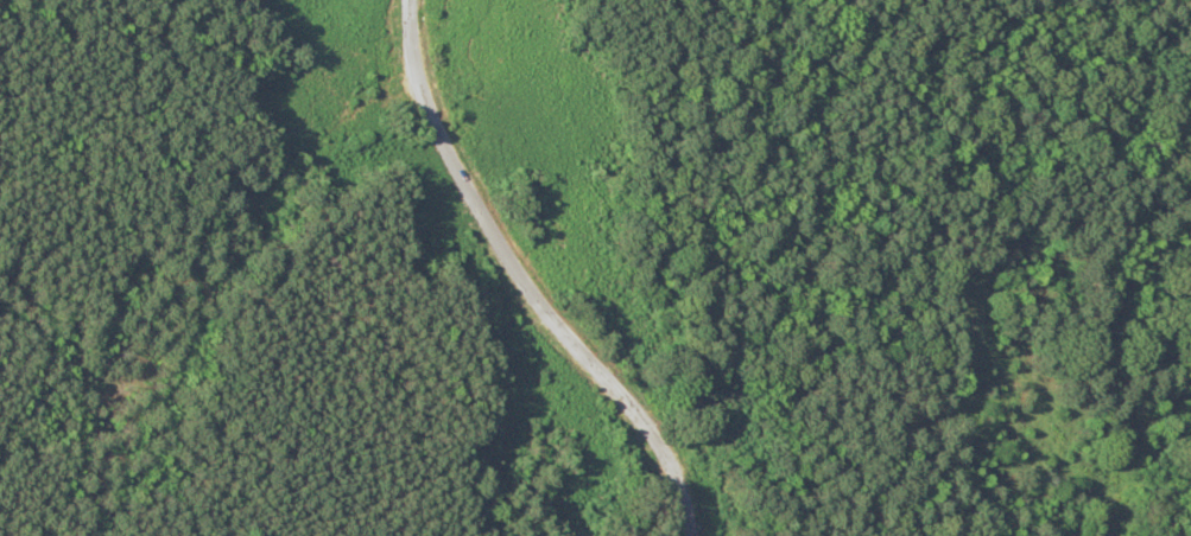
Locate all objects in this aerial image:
road: (527, 279)

